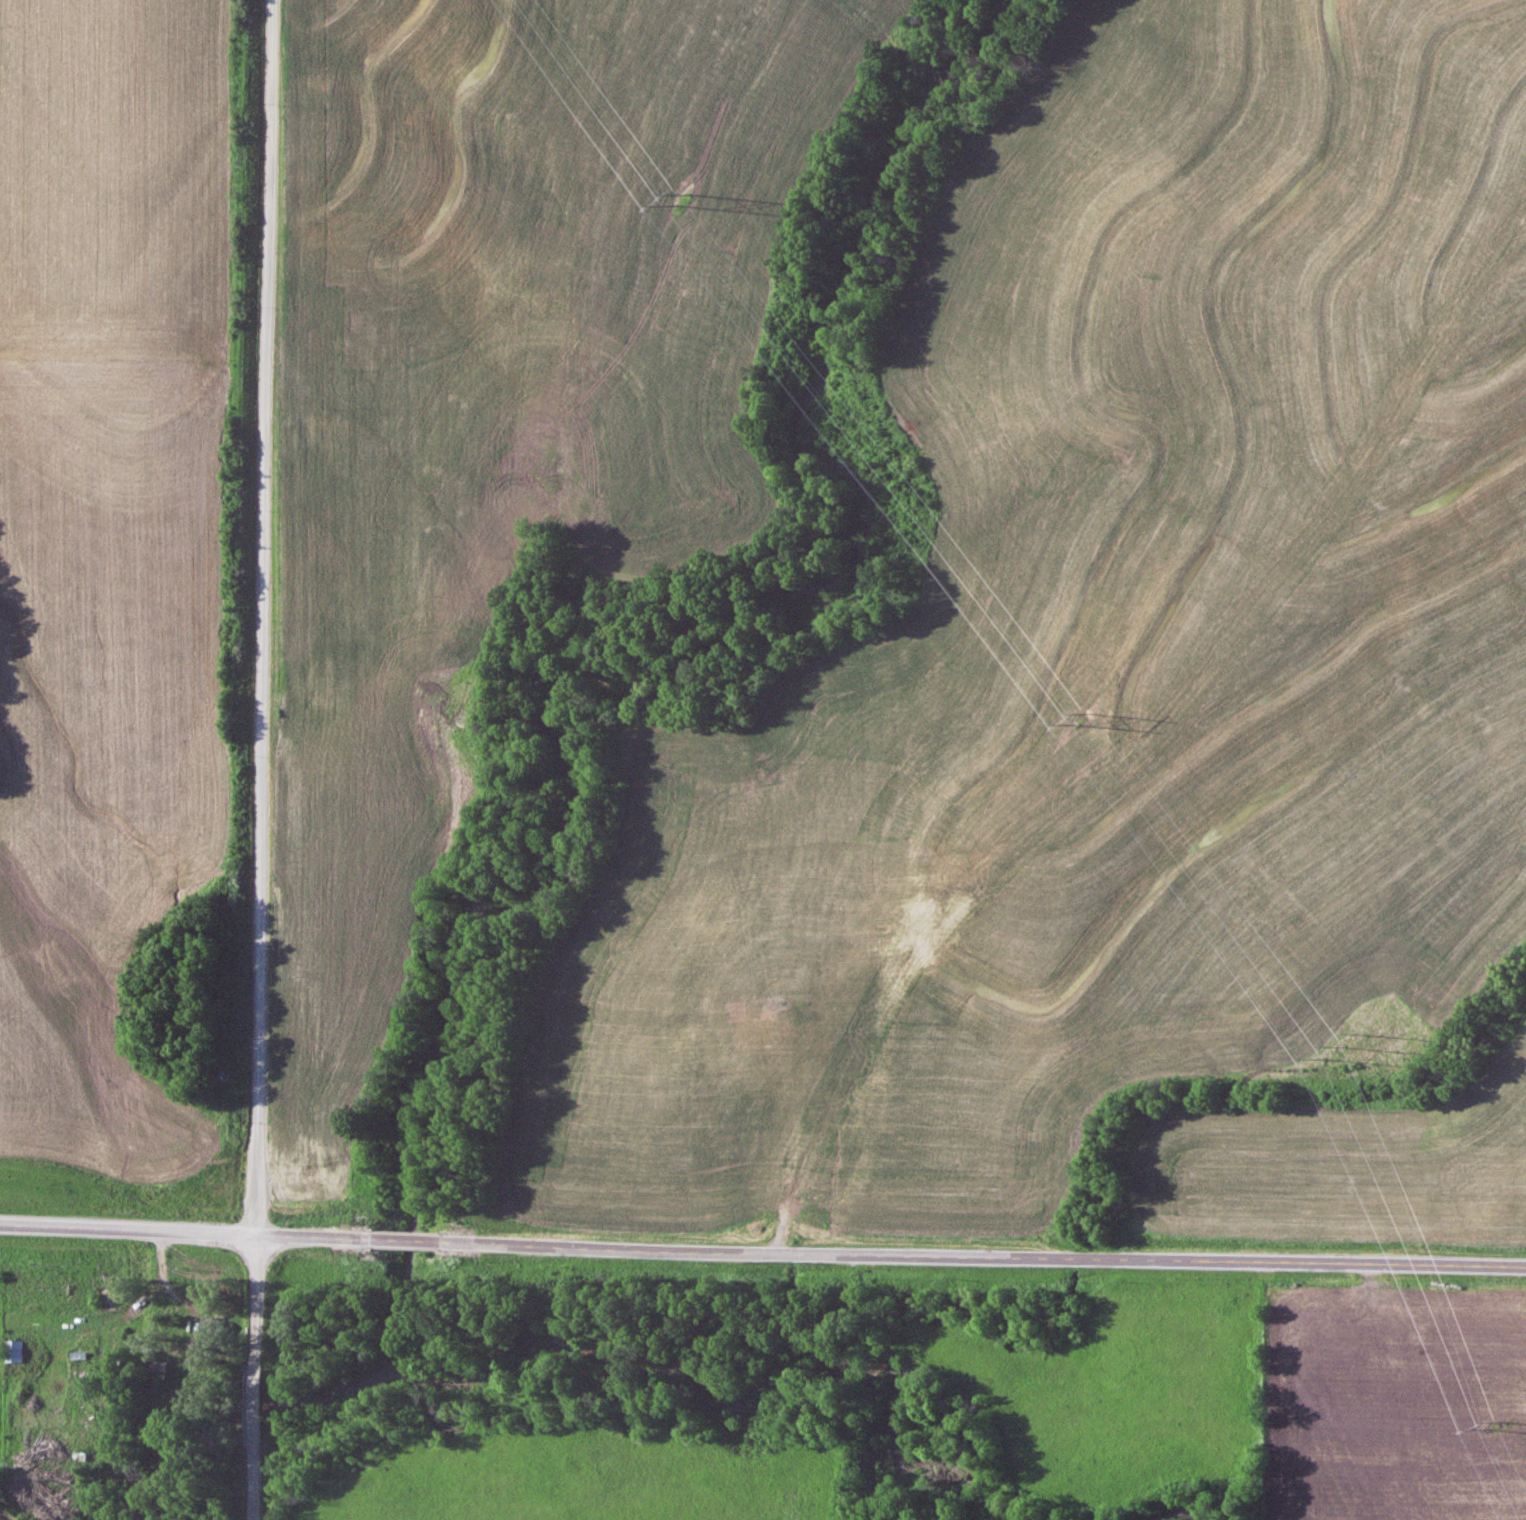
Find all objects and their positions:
power tower: (667, 206)
road: (264, 617)
power tower: (1071, 719)
building: (821, 913)
building: (891, 939)
power tower: (1344, 1053)
road: (763, 1247)
building: (213, 1329)
building: (15, 1351)
building: (159, 1371)
road: (258, 1376)
power tower: (1489, 1432)

